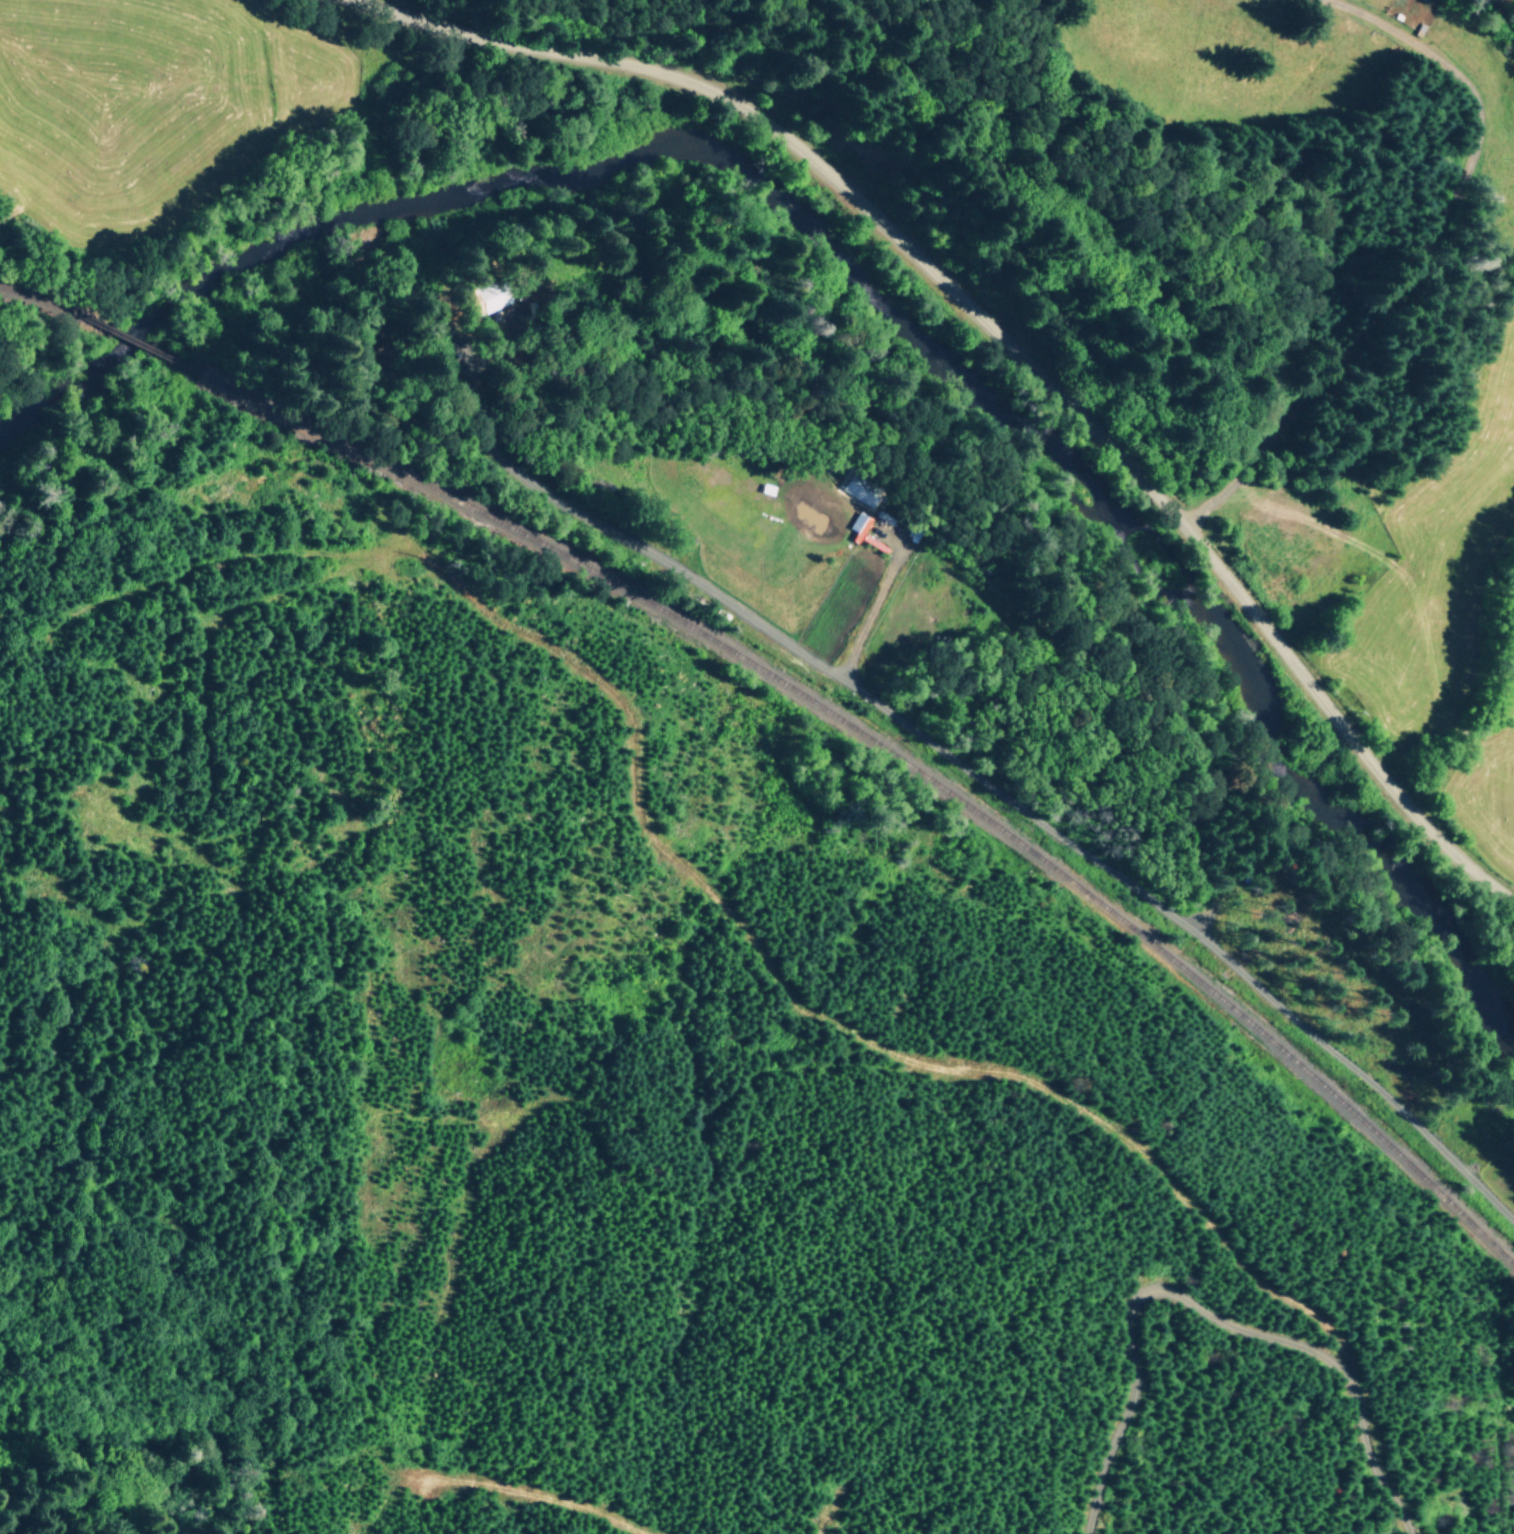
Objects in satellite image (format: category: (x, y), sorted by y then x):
road: (1417, 248)
railway: (36, 300)
river: (857, 307)
railway: (111, 332)
road: (1005, 351)
railway: (874, 746)
road: (1135, 888)
road: (530, 972)
road: (1003, 1087)
road: (1202, 1301)
road: (565, 1478)

